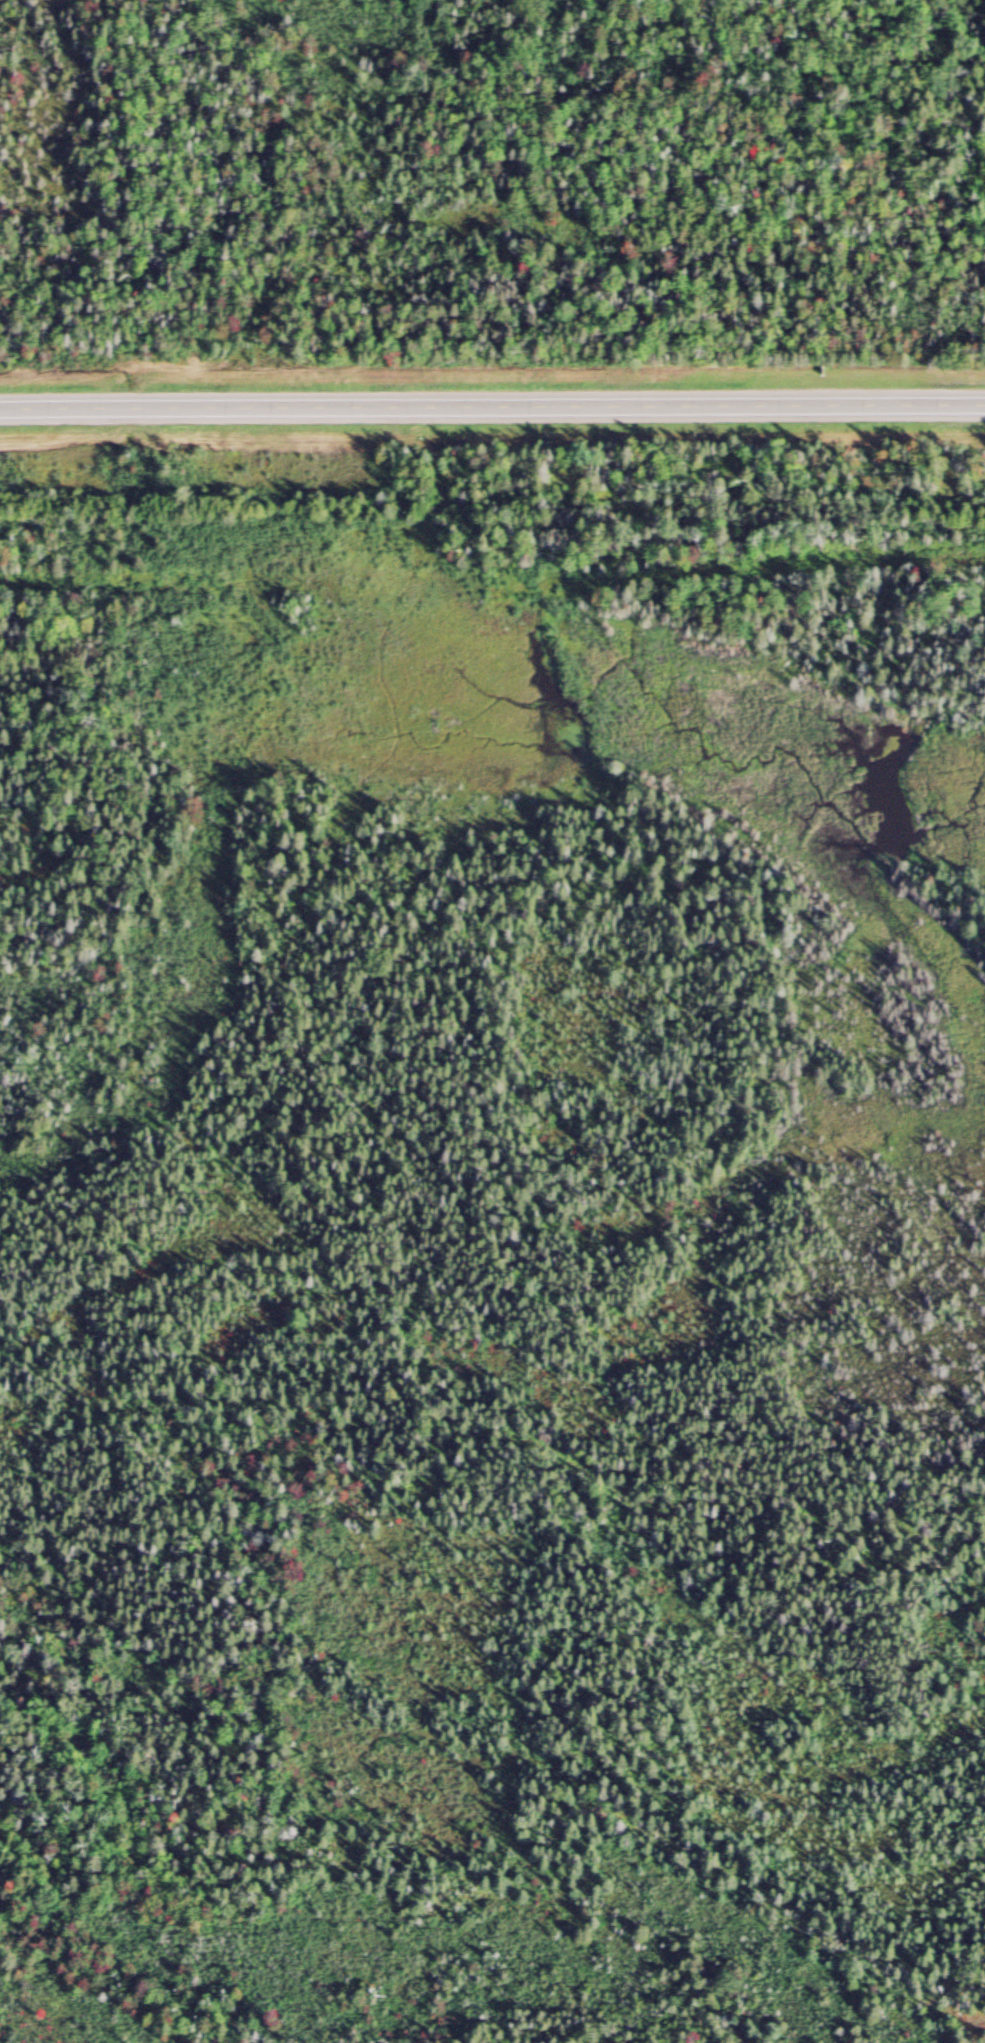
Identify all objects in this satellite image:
road: (492, 402)

